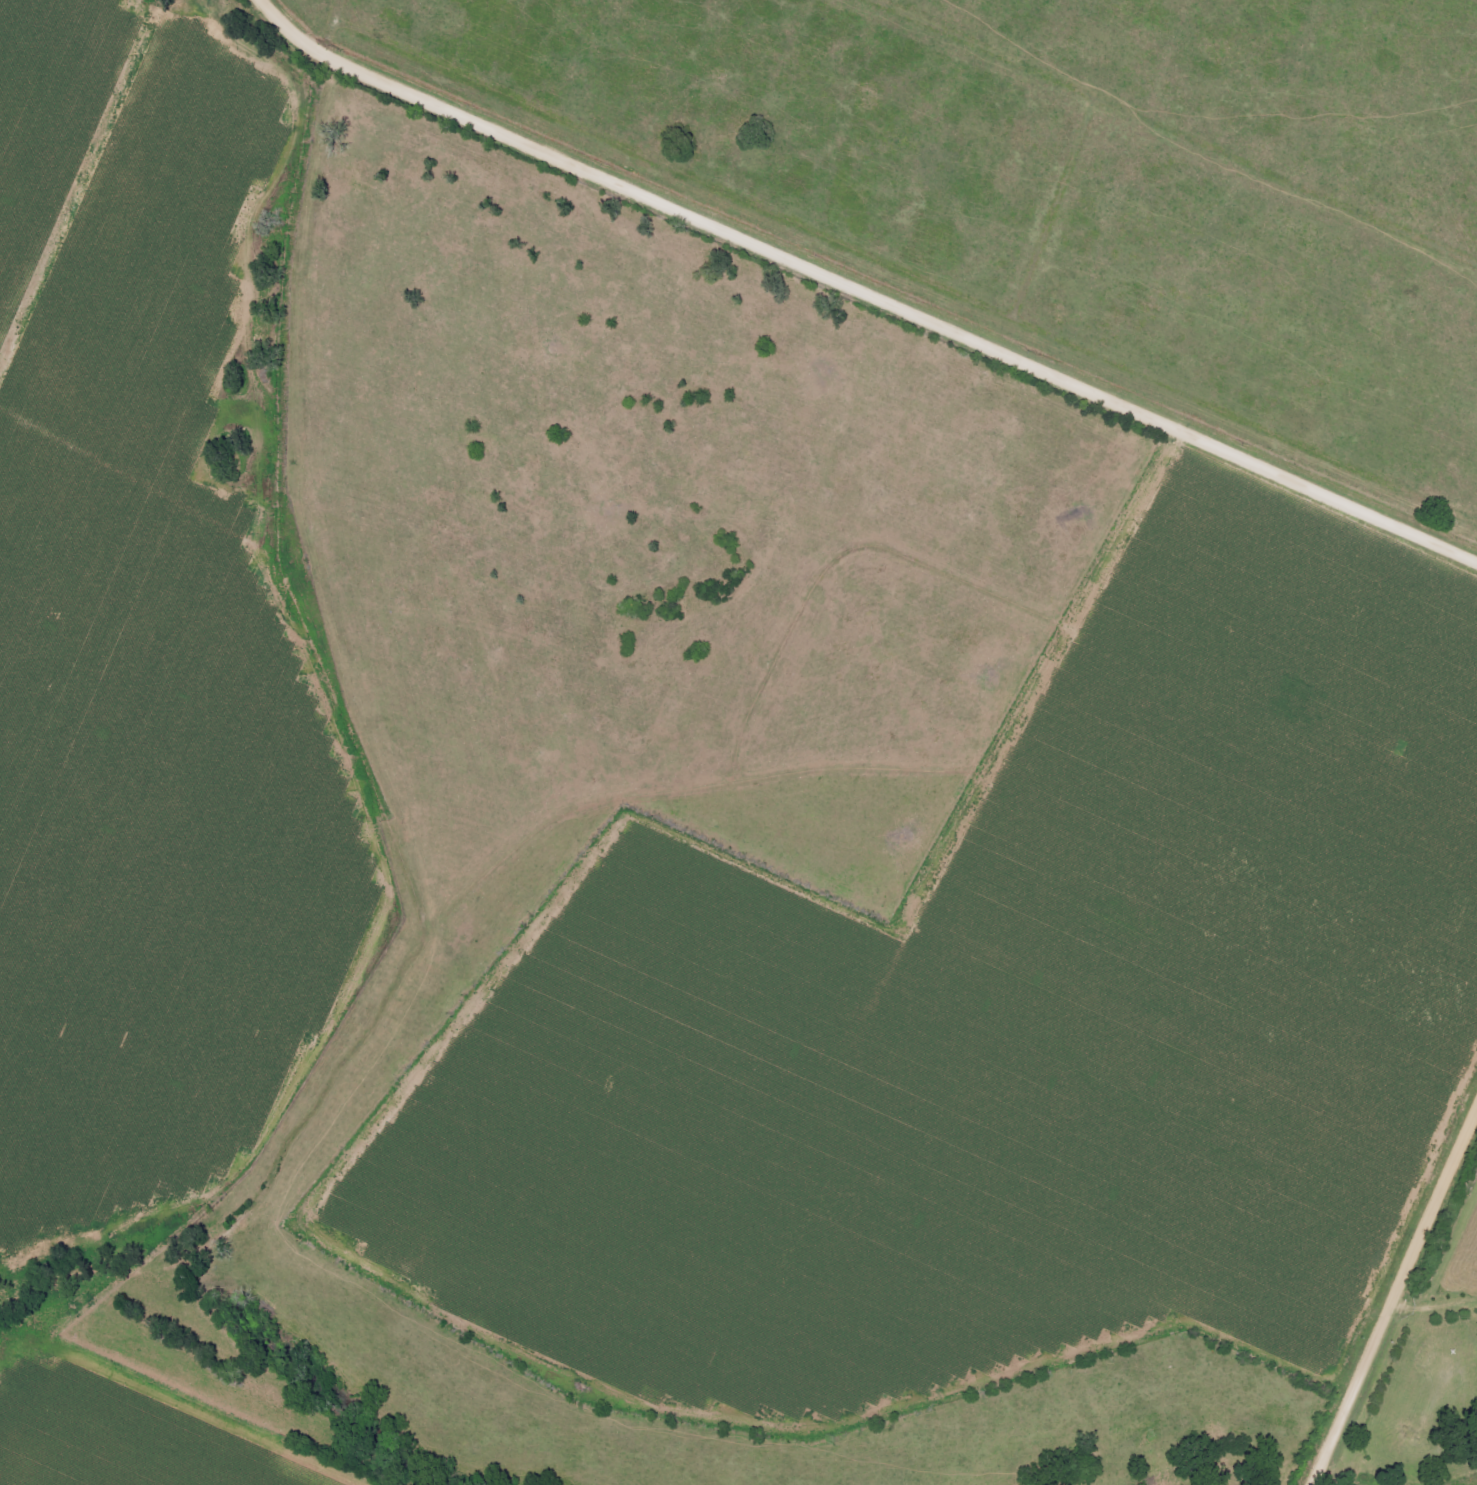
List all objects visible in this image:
road: (864, 289)
road: (1393, 1293)

